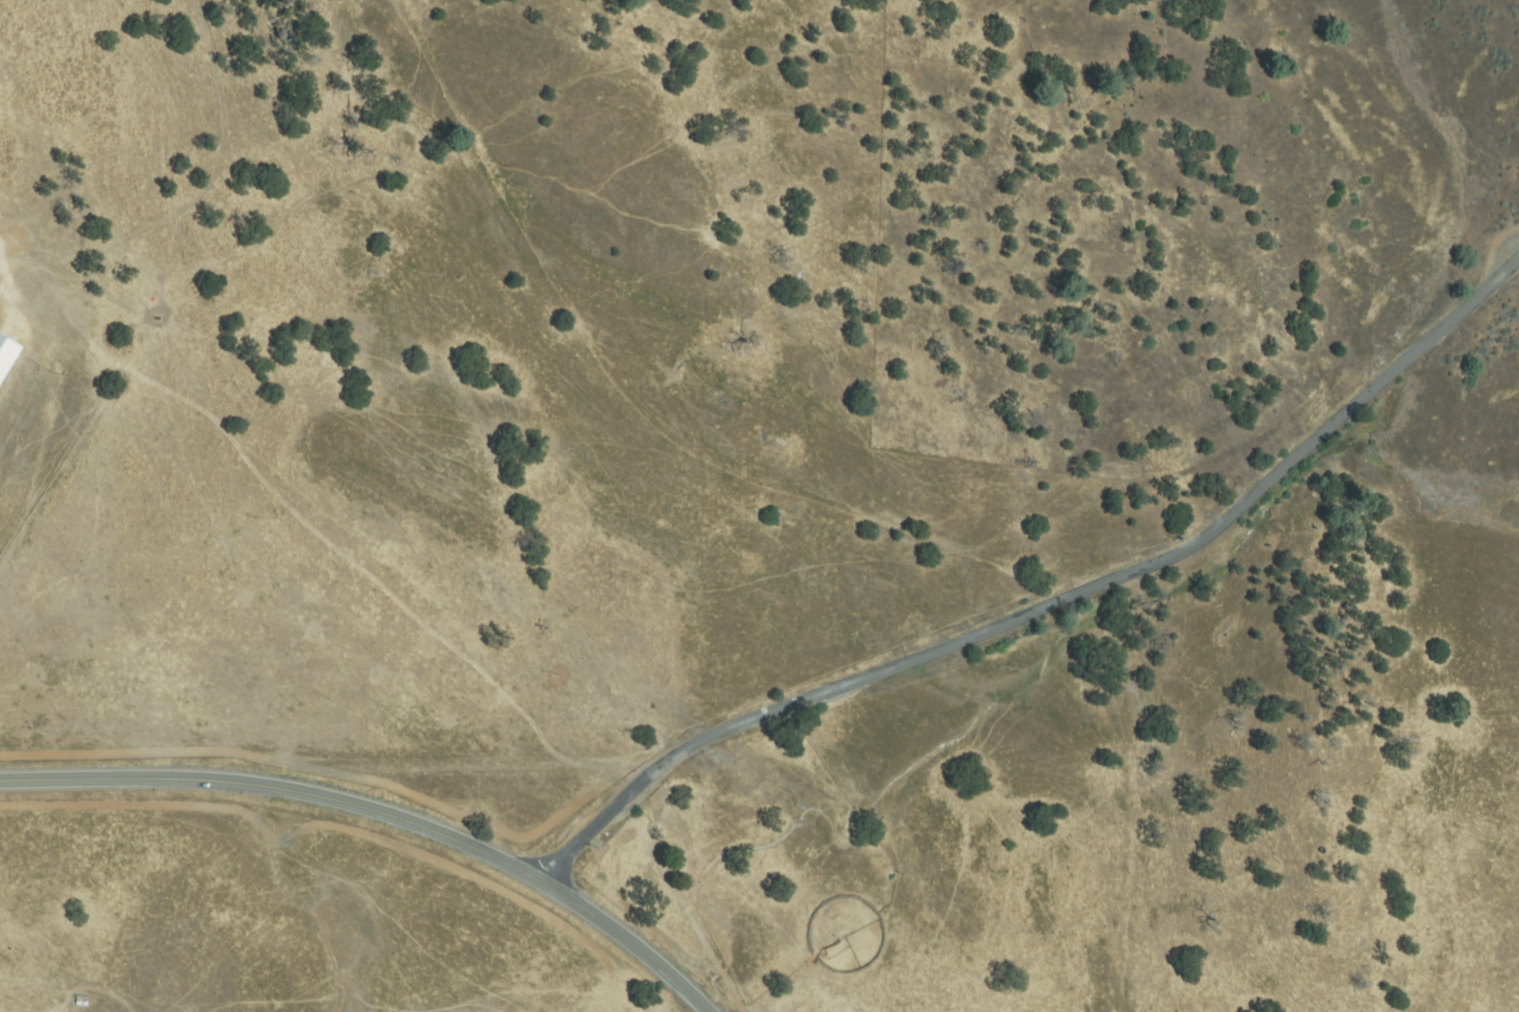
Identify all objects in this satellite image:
building: (7, 354)
road: (1046, 590)
road: (382, 810)

